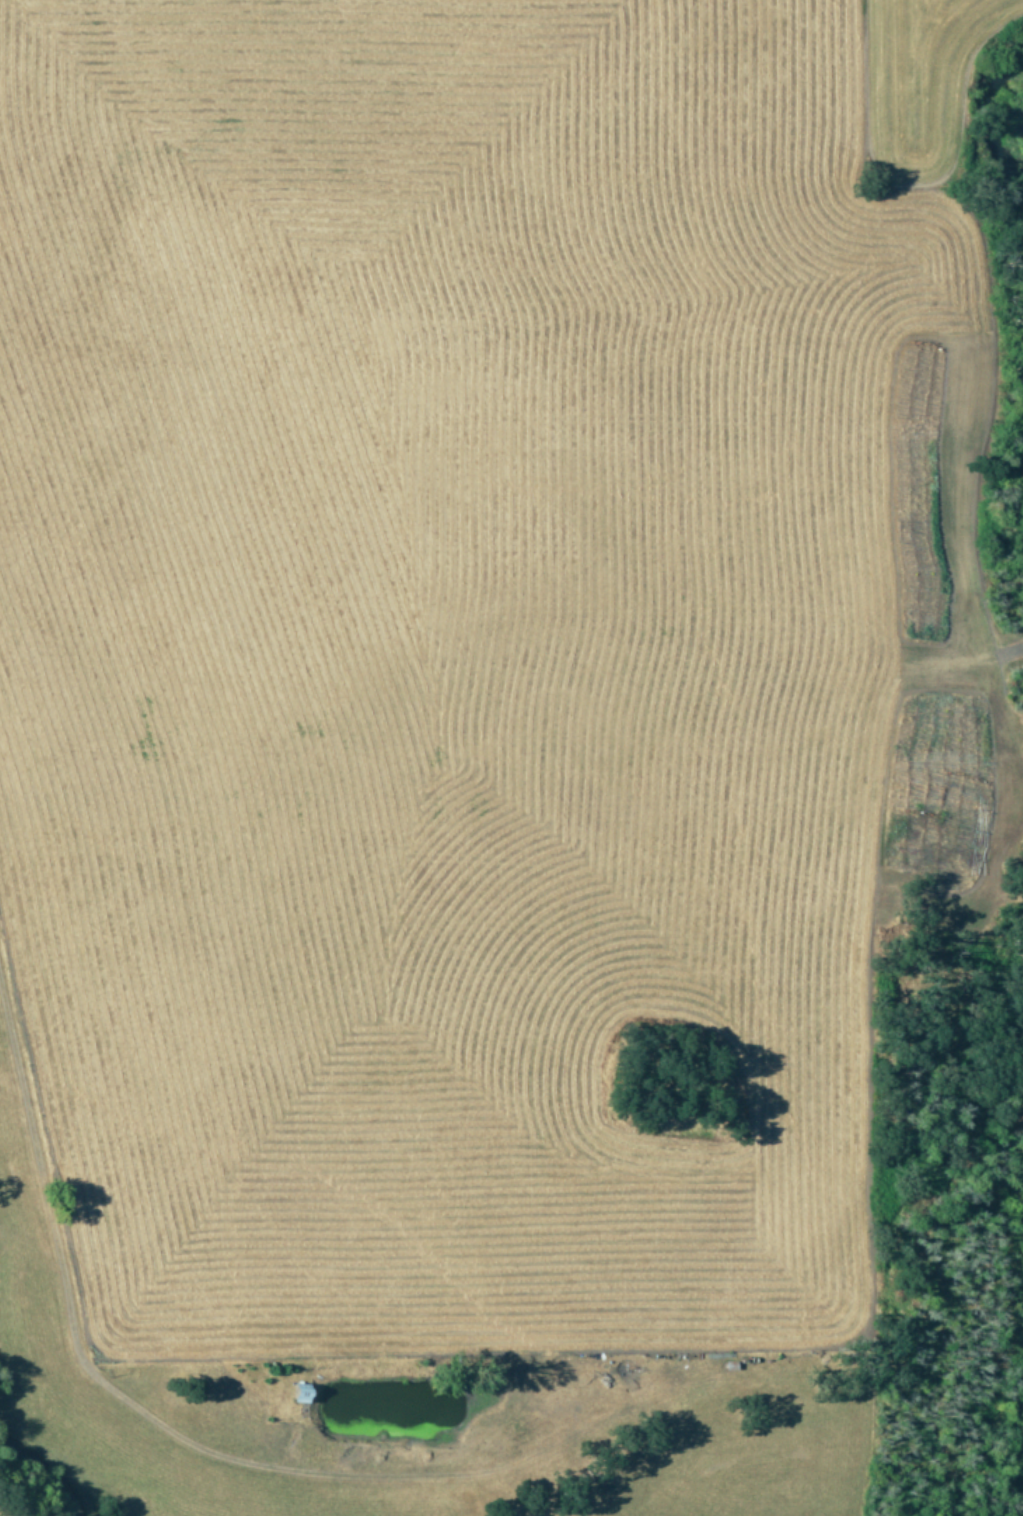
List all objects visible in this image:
crop: (451, 674)
crop: (1021, 1515)

